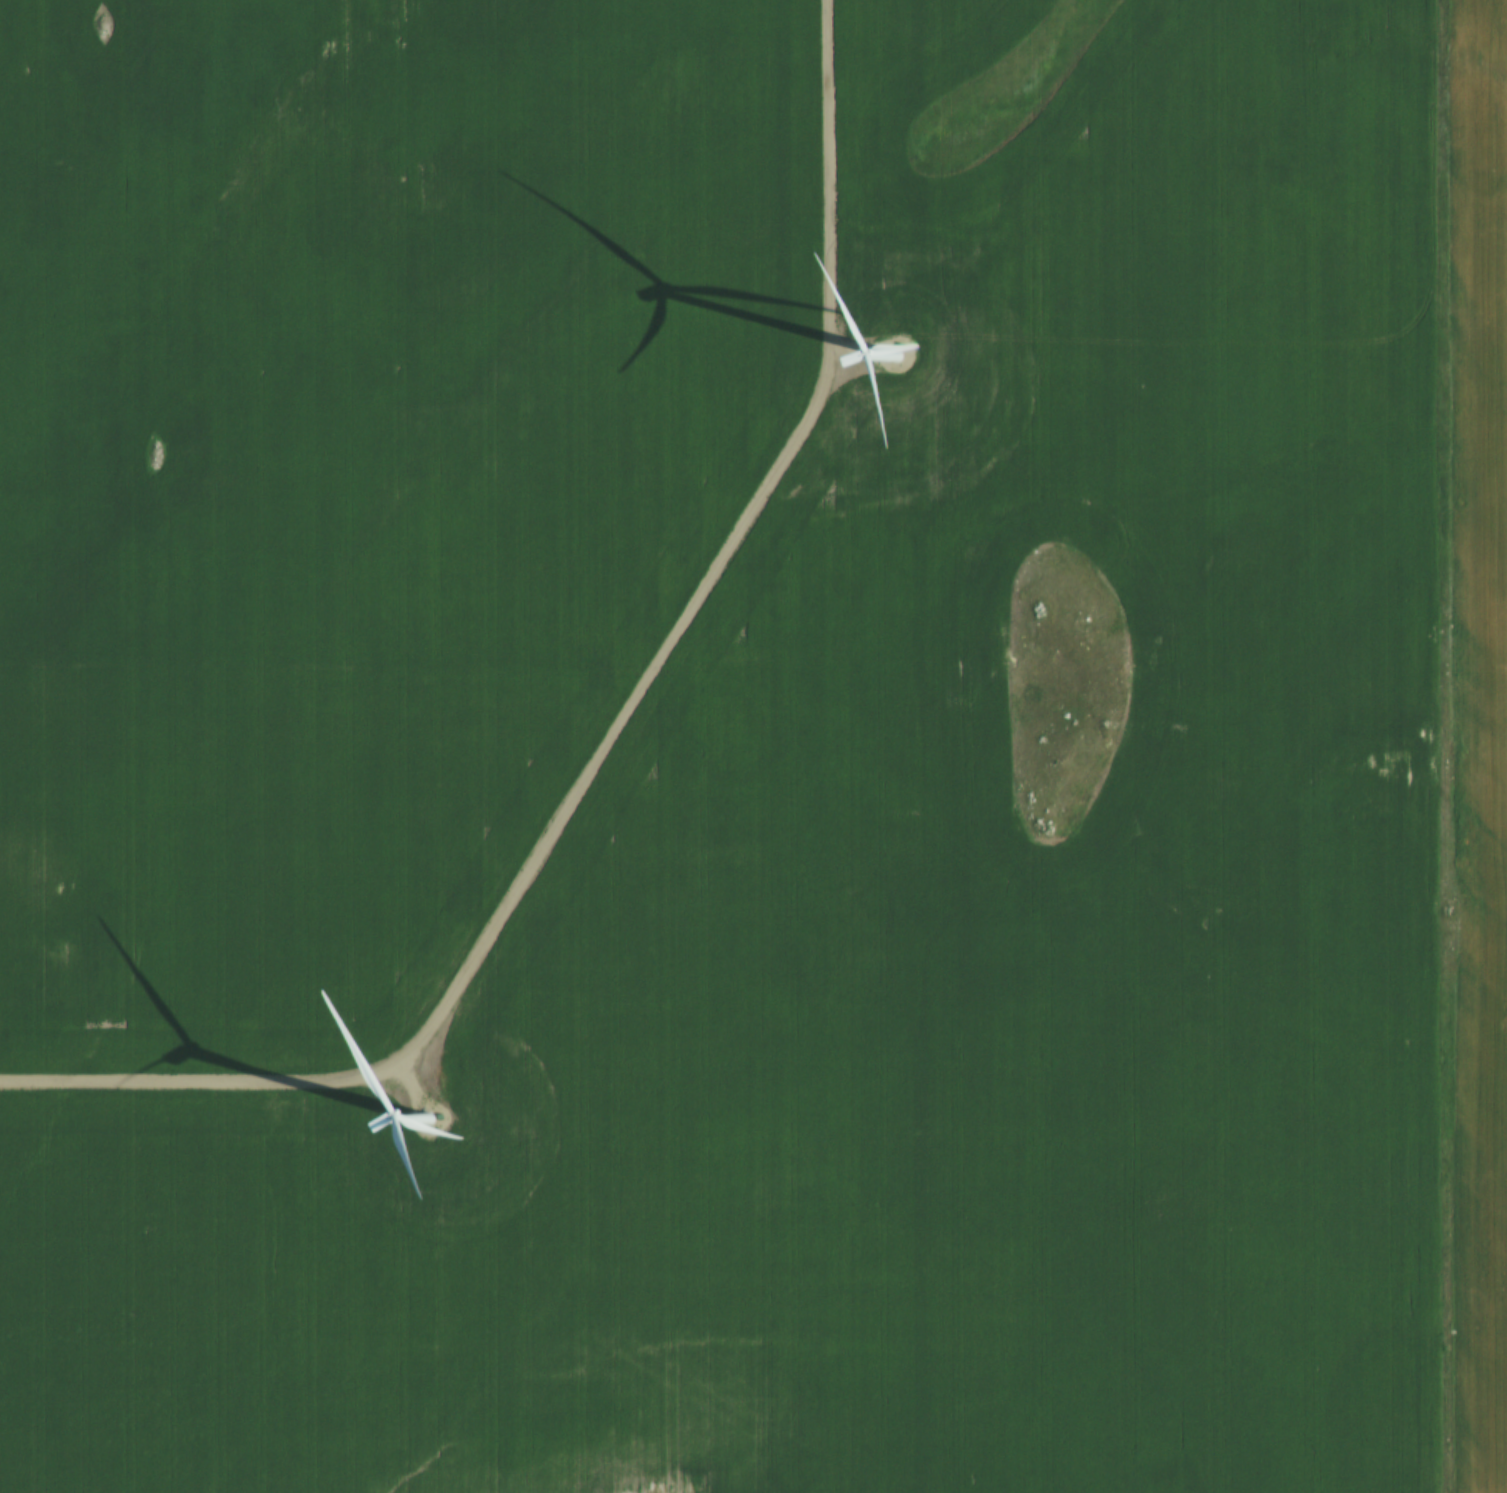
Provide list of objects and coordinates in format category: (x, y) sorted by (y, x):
wind turbine: (889, 349)
wind turbine: (433, 1118)

